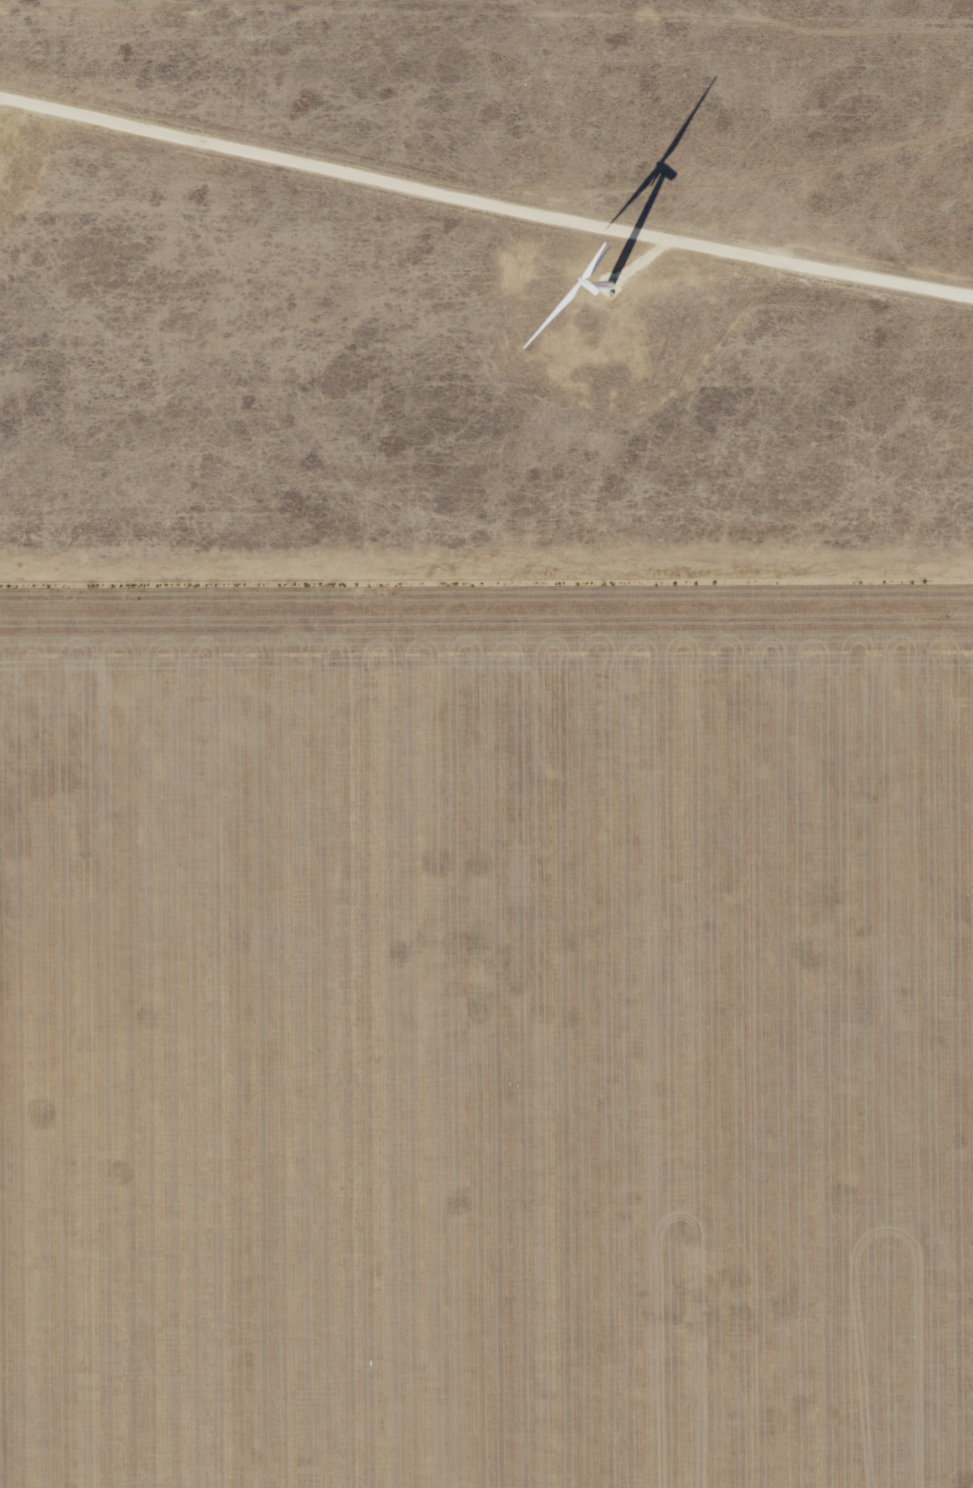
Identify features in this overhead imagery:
wind turbine: (609, 289)

